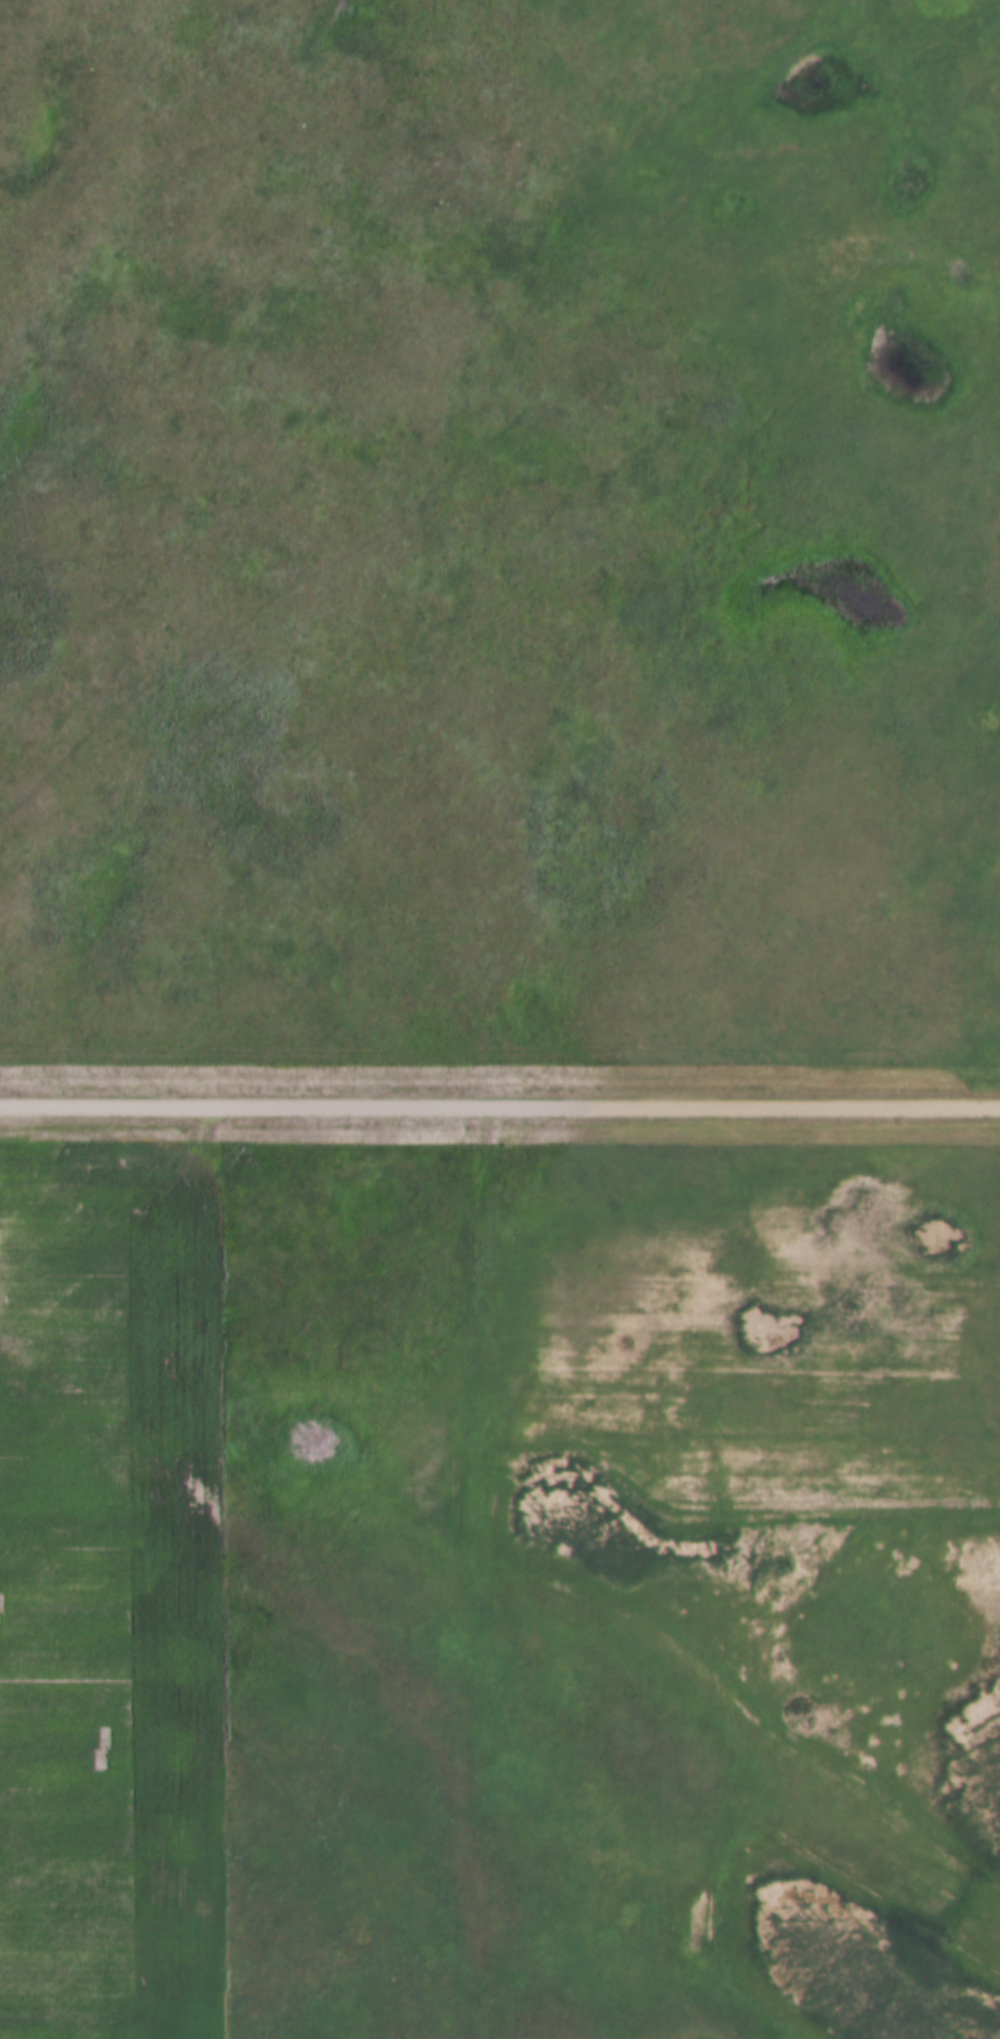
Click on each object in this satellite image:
road: (499, 1107)

